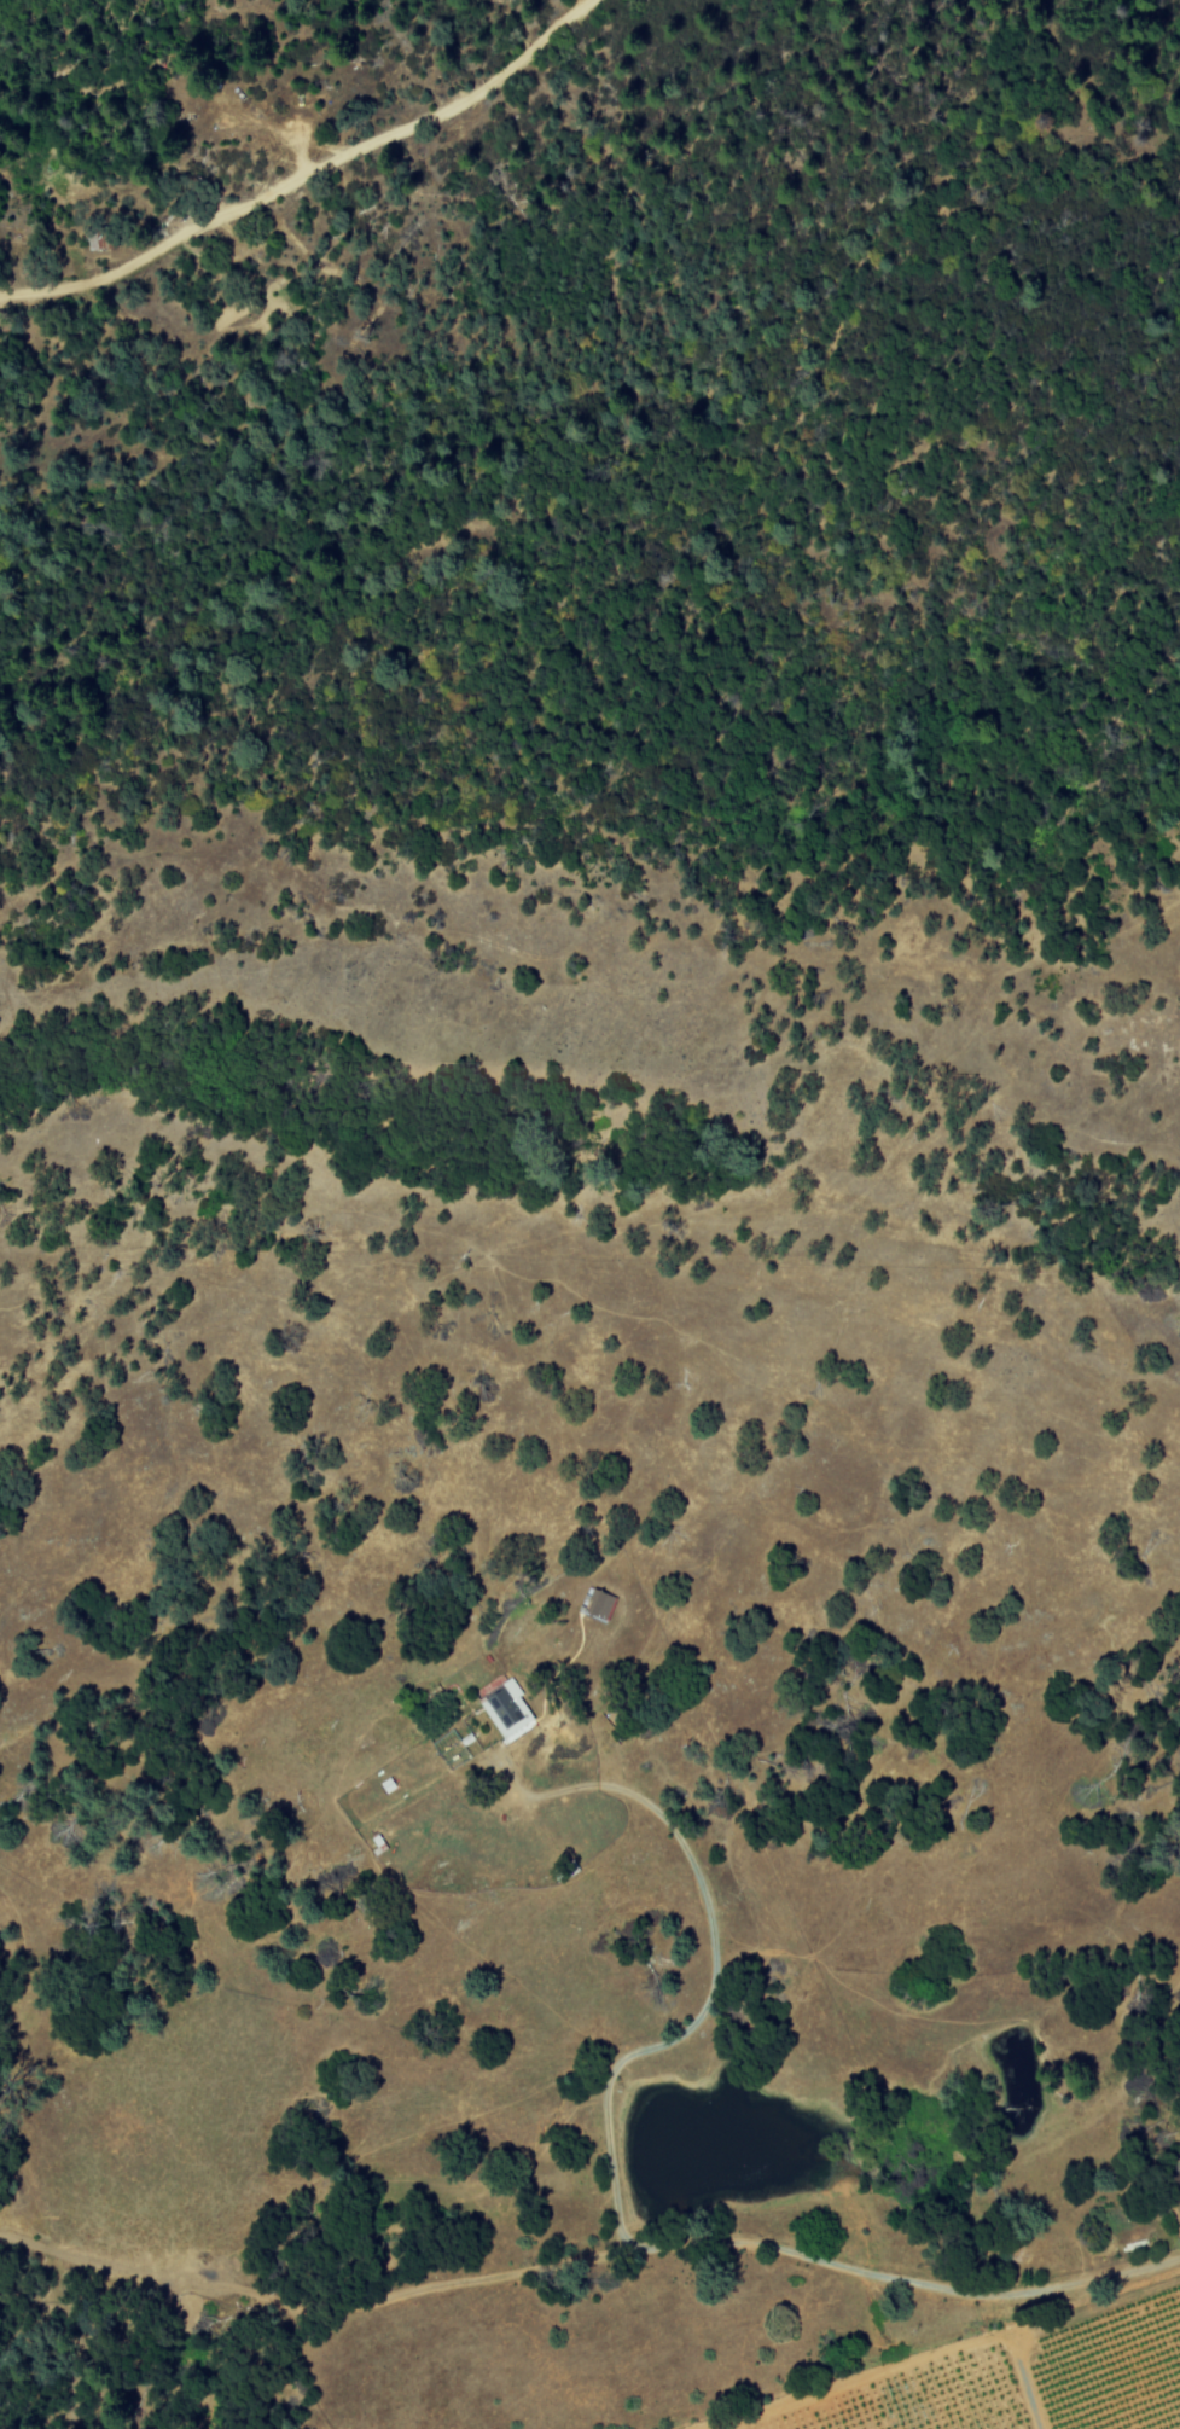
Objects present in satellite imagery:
road: (306, 172)
road: (1178, 879)
building: (598, 1605)
road: (614, 2187)
road: (1027, 2387)

